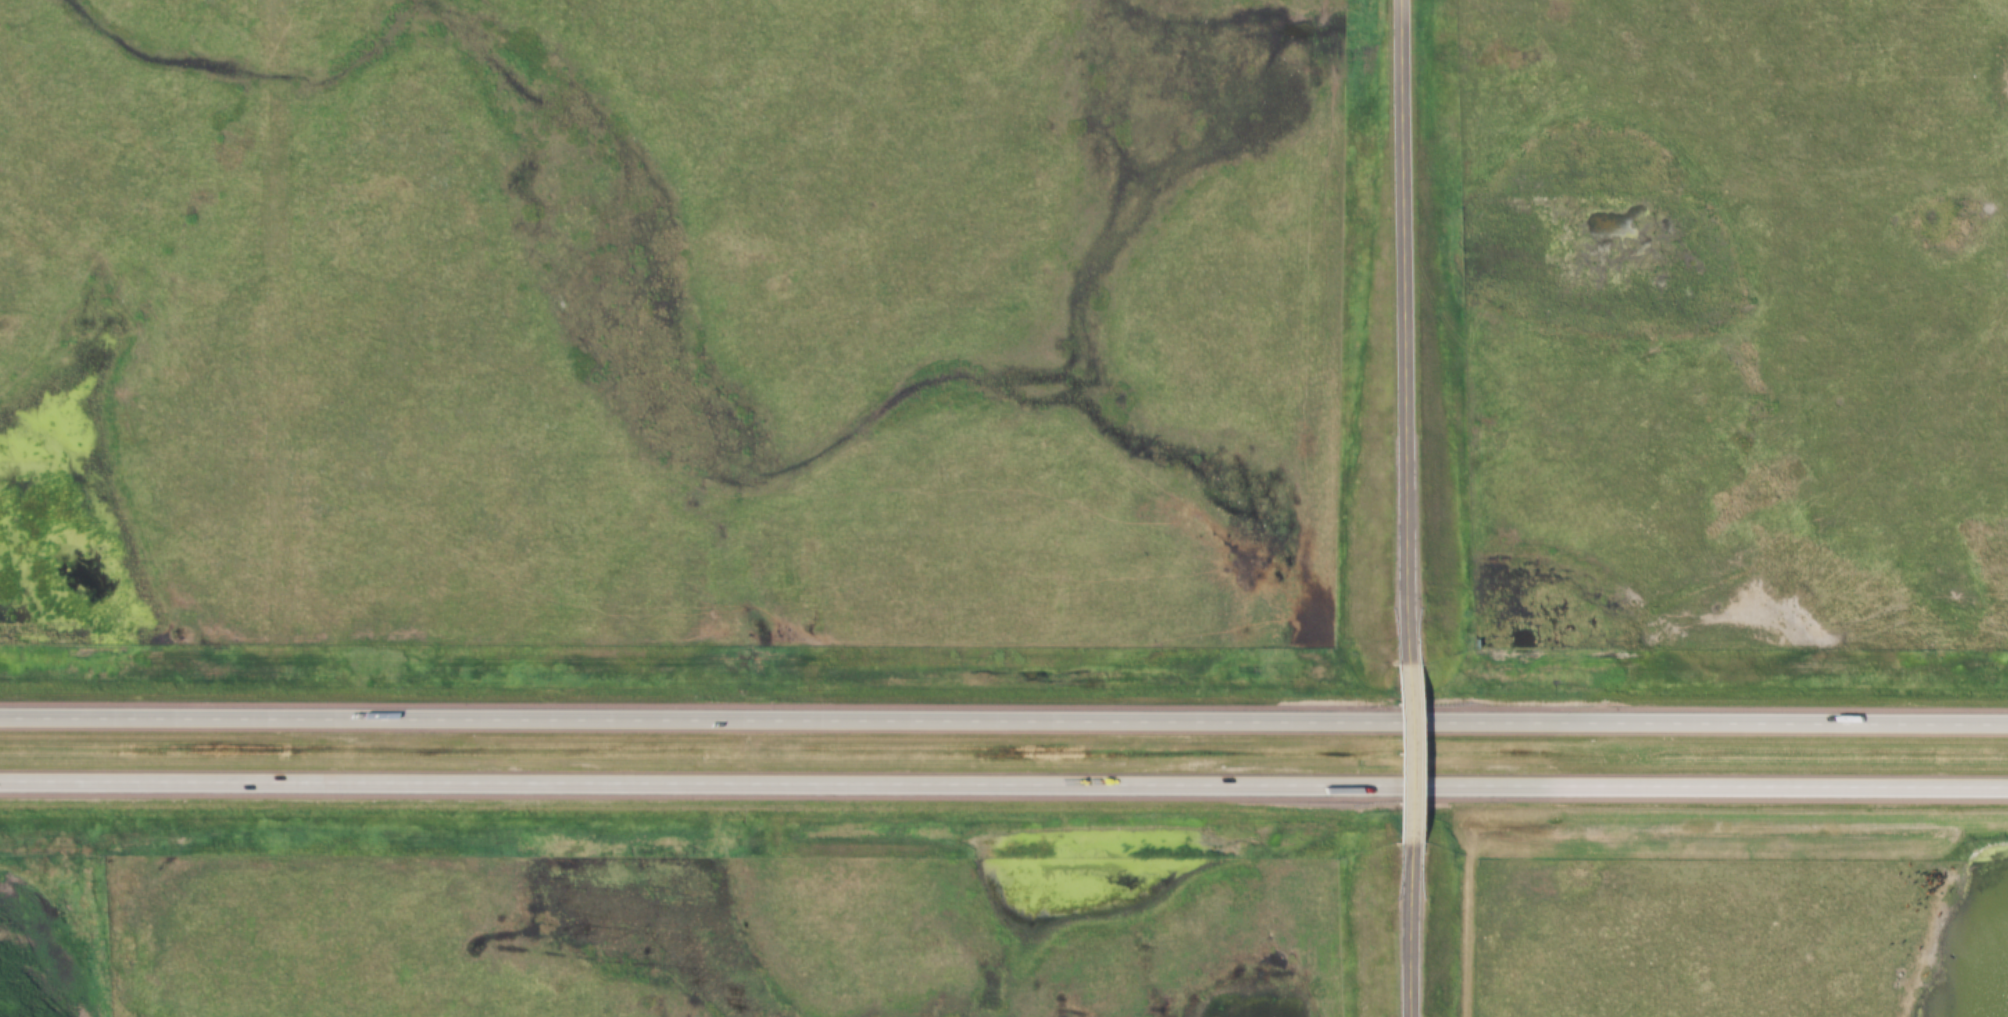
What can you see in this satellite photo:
road: (1403, 6)
road: (1400, 335)
road: (1004, 724)
road: (1396, 748)
road: (1004, 789)
road: (1399, 928)

